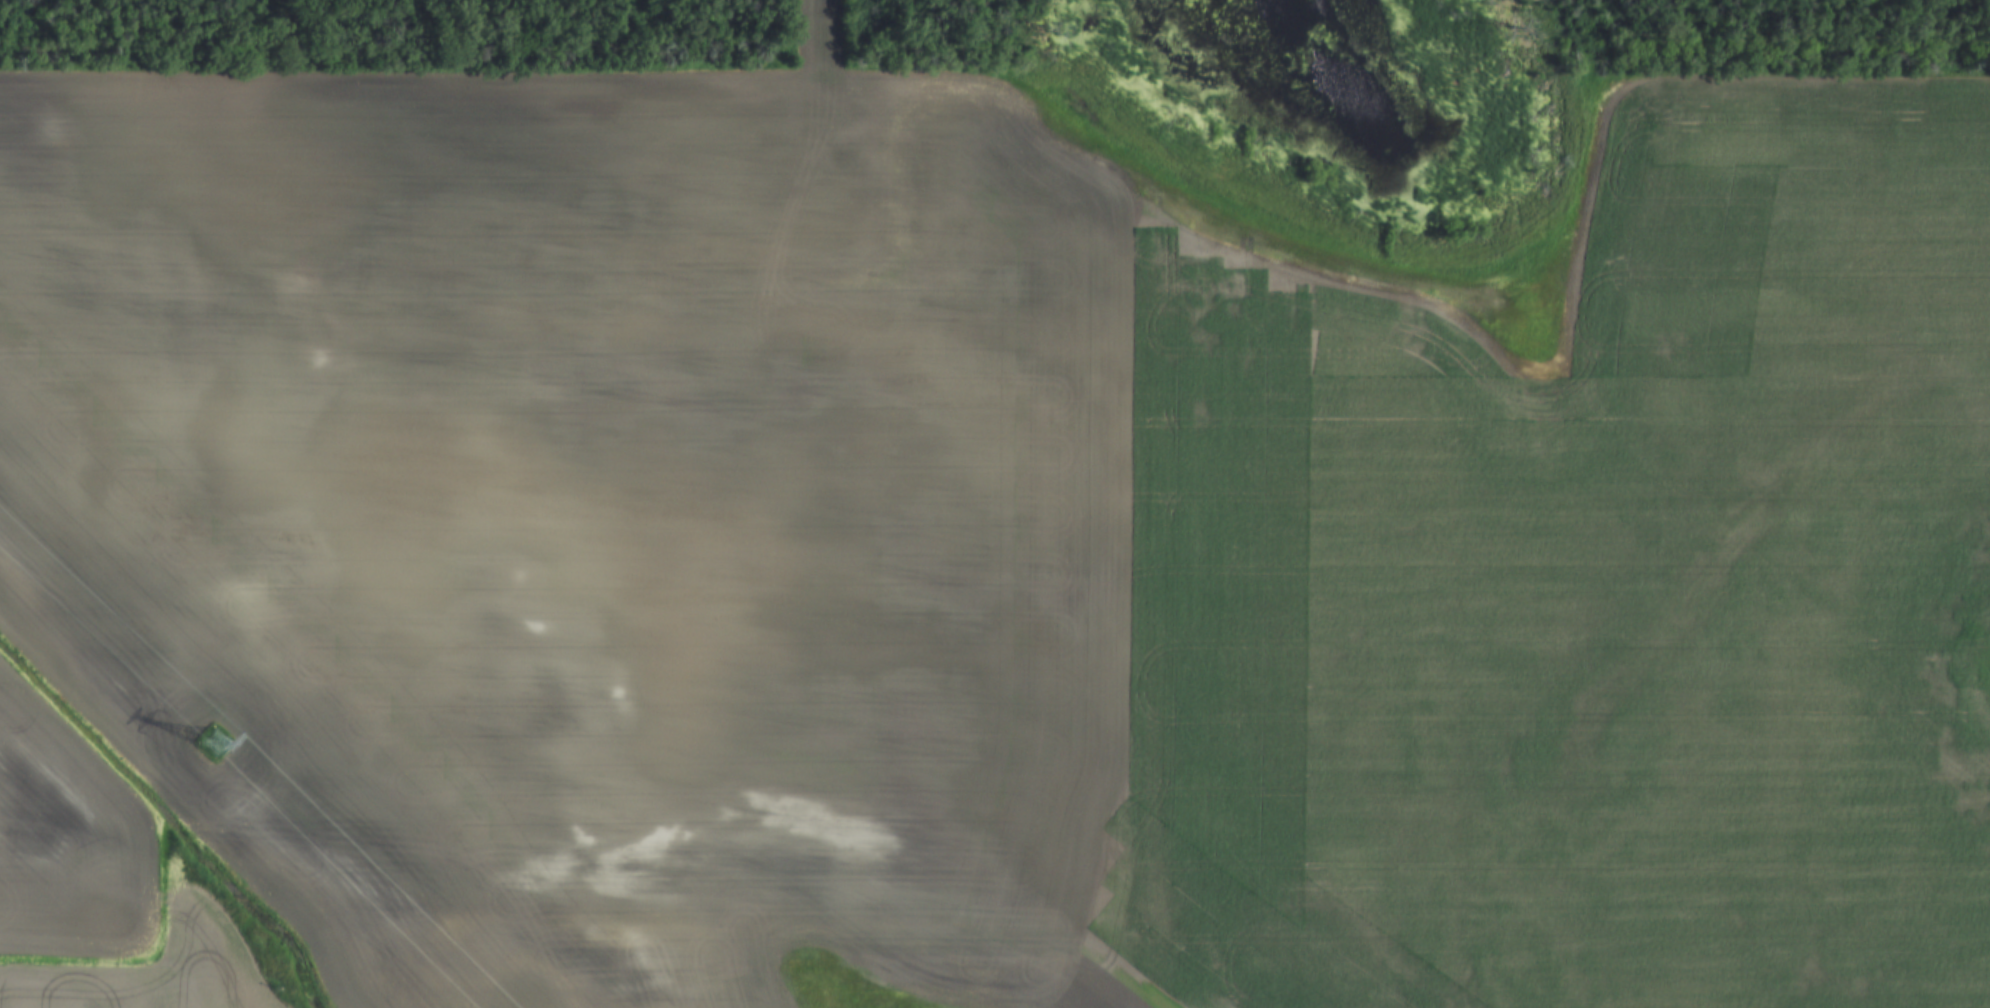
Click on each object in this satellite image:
power tower: (212, 743)

